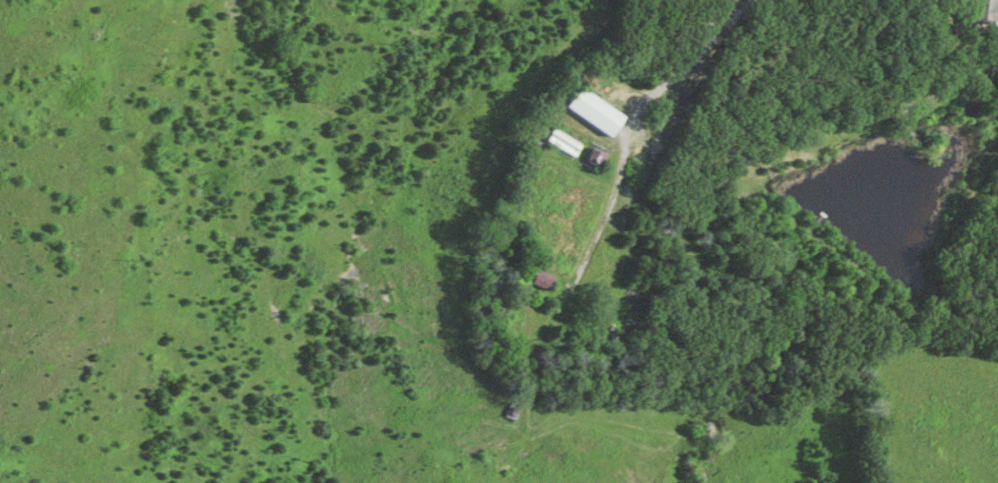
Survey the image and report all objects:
building: (983, 12)
building: (588, 113)
building: (595, 161)
building: (539, 282)

